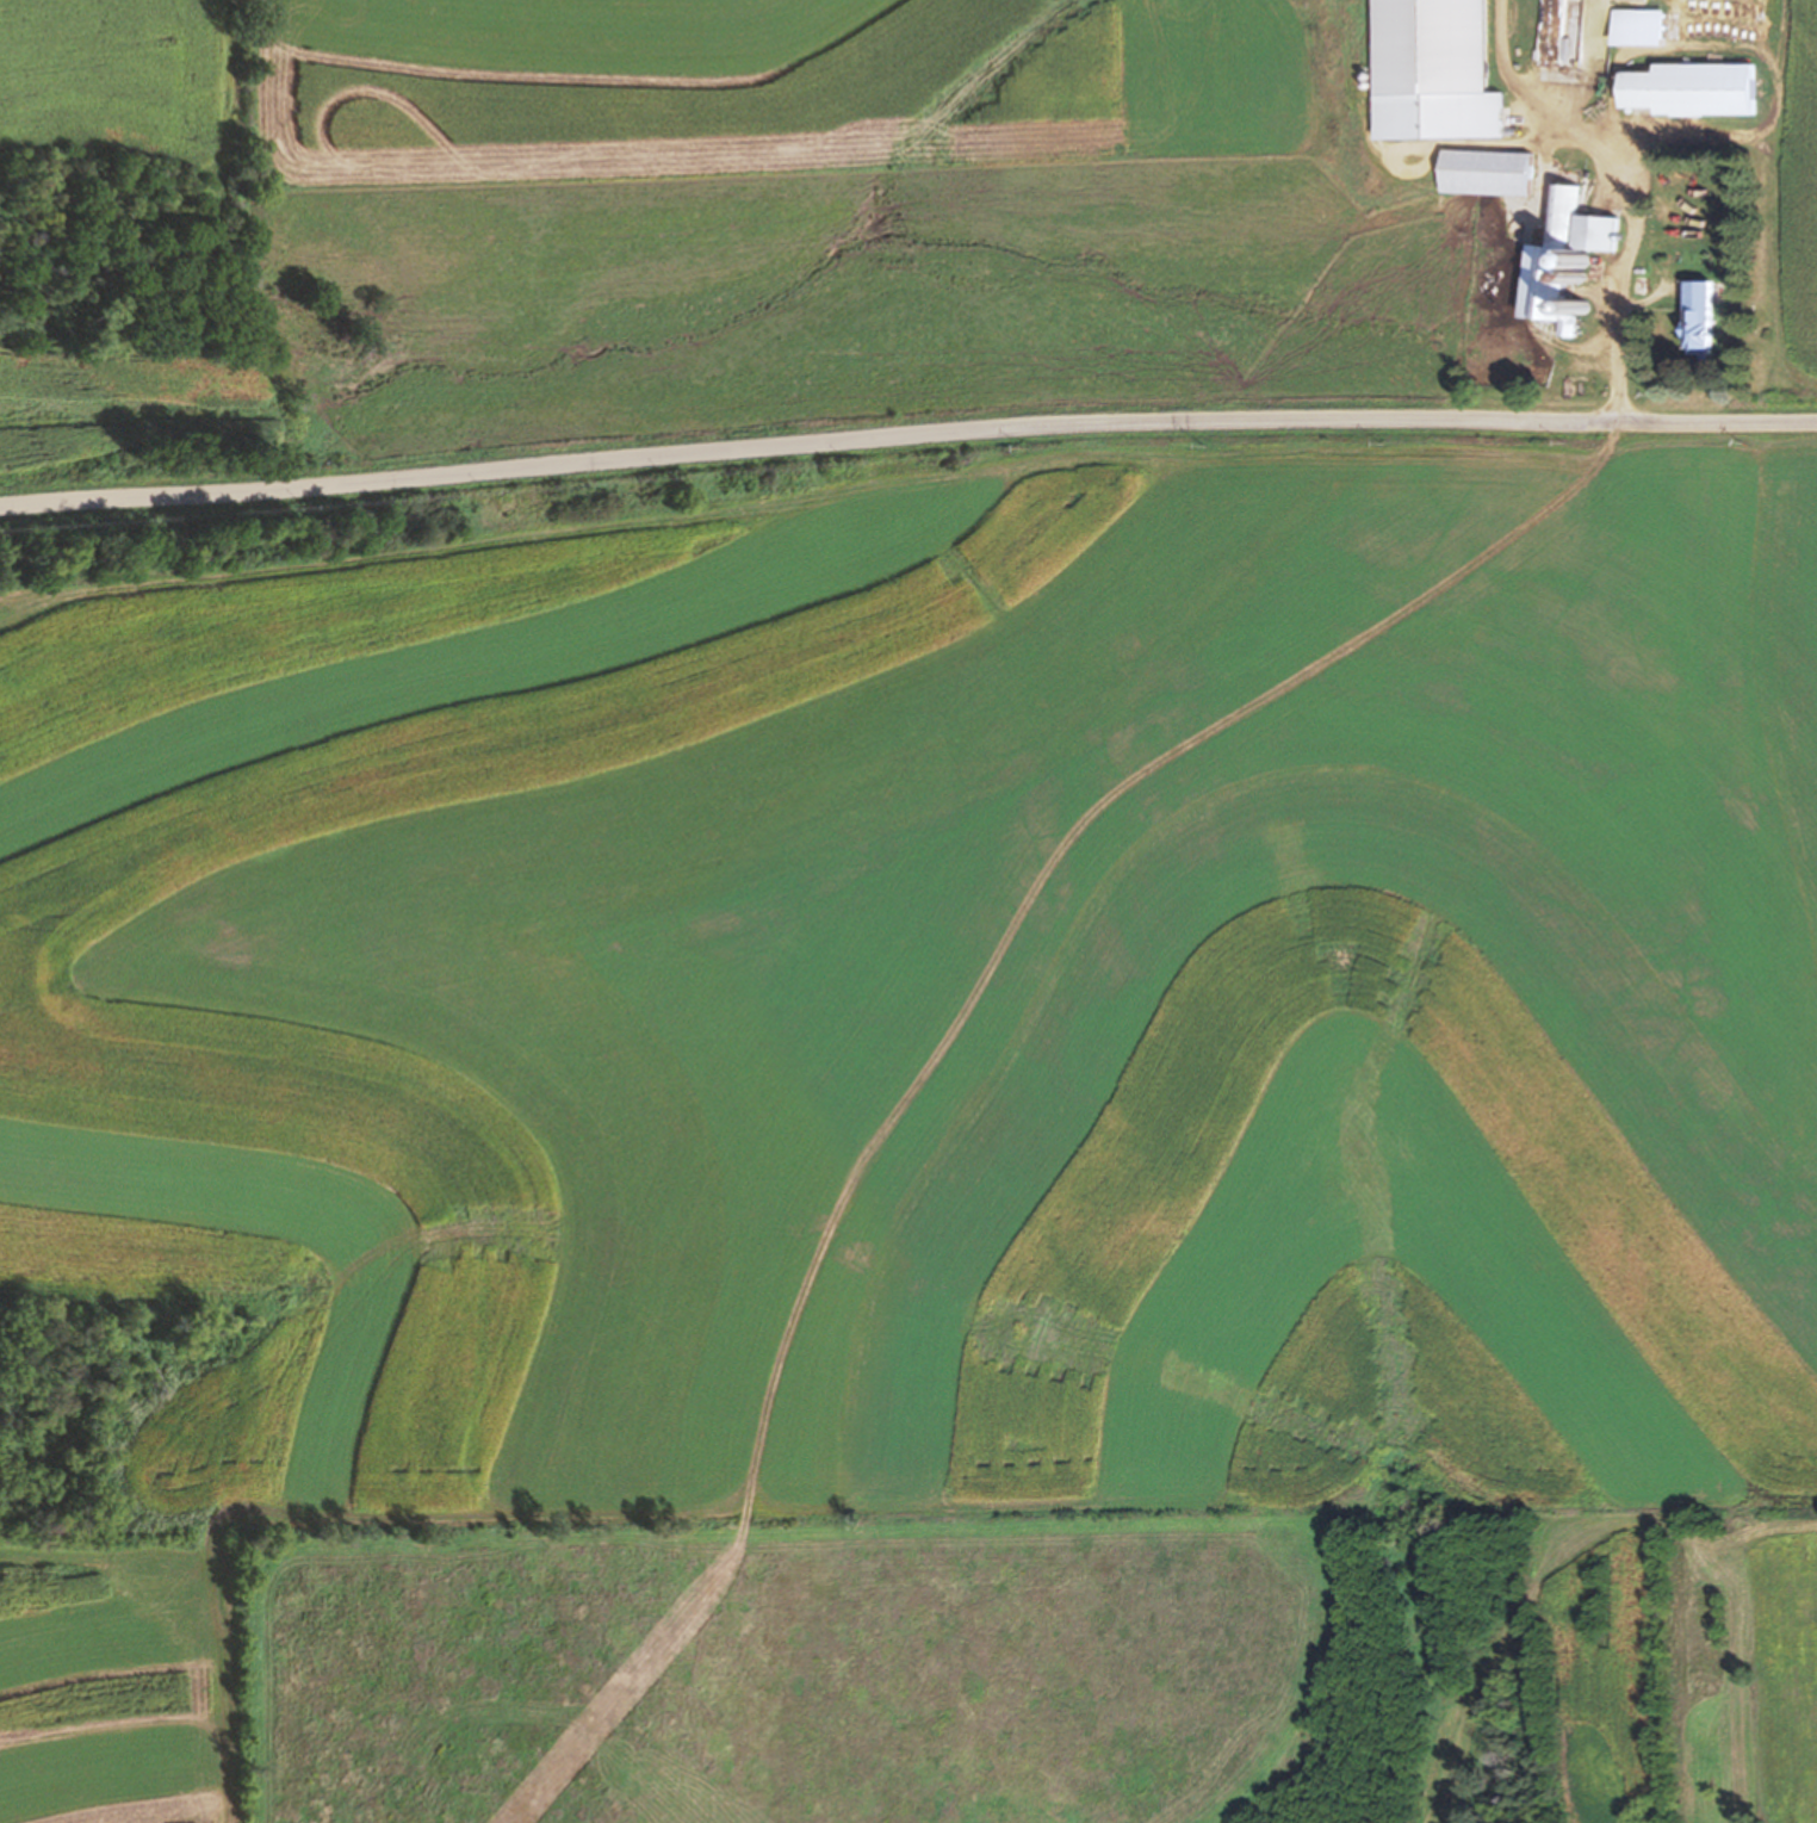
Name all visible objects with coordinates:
building: (1433, 46)
building: (1689, 88)
building: (1486, 172)
building: (1564, 260)
road: (1619, 275)
building: (1698, 318)
building: (1577, 386)
road: (906, 436)

